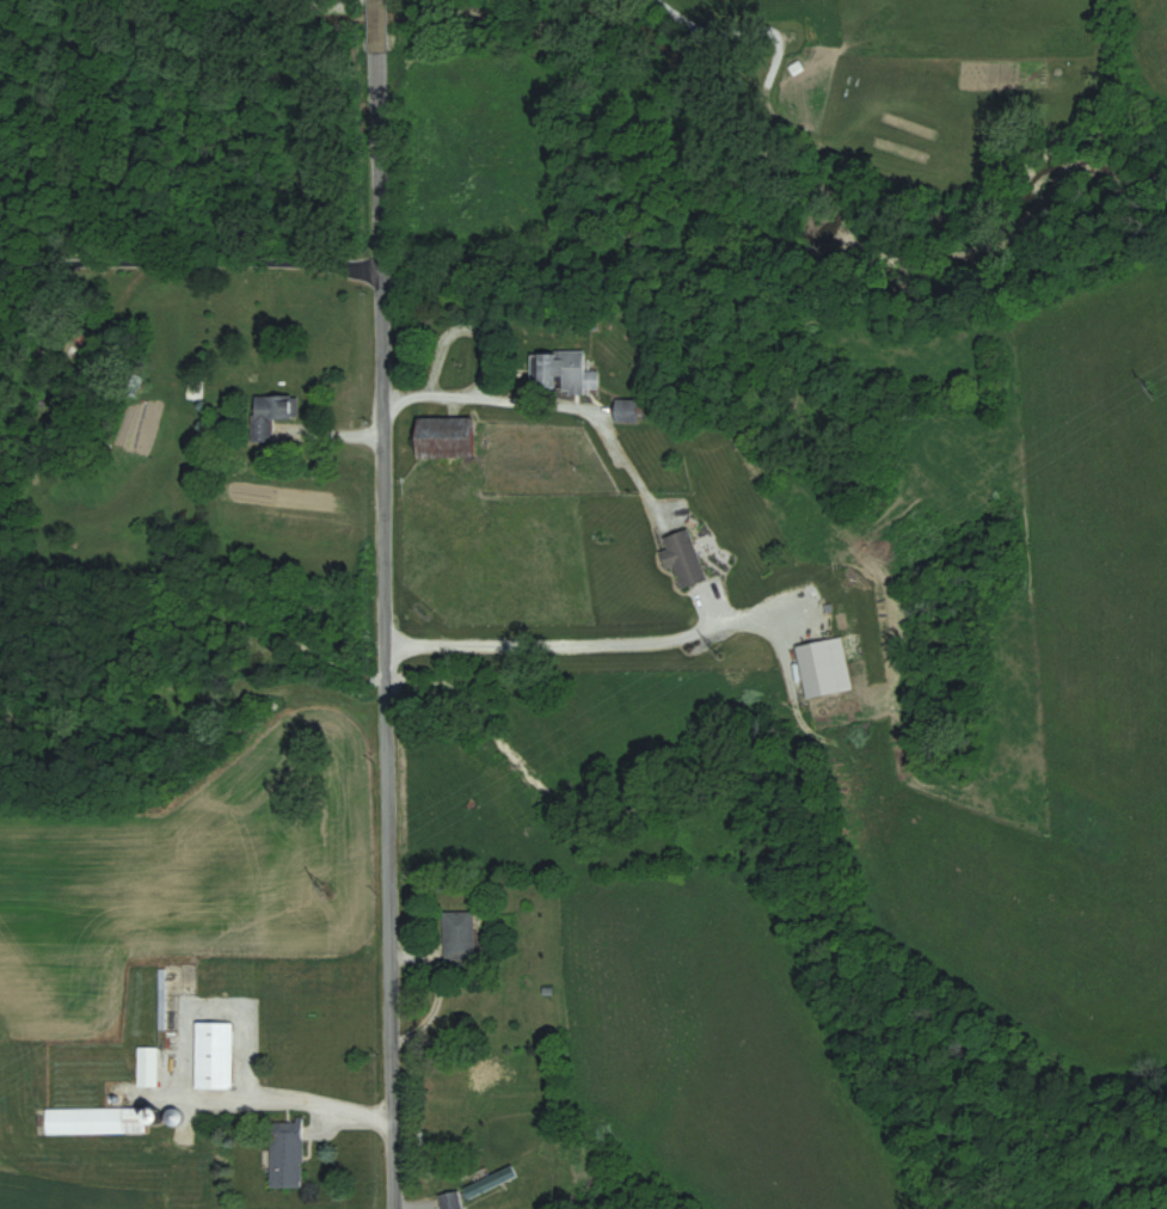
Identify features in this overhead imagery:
road: (190, 262)
building: (558, 374)
power tower: (1154, 382)
road: (543, 398)
building: (626, 411)
building: (270, 417)
building: (446, 440)
building: (684, 557)
road: (382, 604)
road: (577, 639)
building: (459, 934)
building: (214, 1054)
building: (147, 1073)
road: (271, 1094)
building: (98, 1119)
building: (287, 1152)
building: (490, 1182)
building: (450, 1199)

